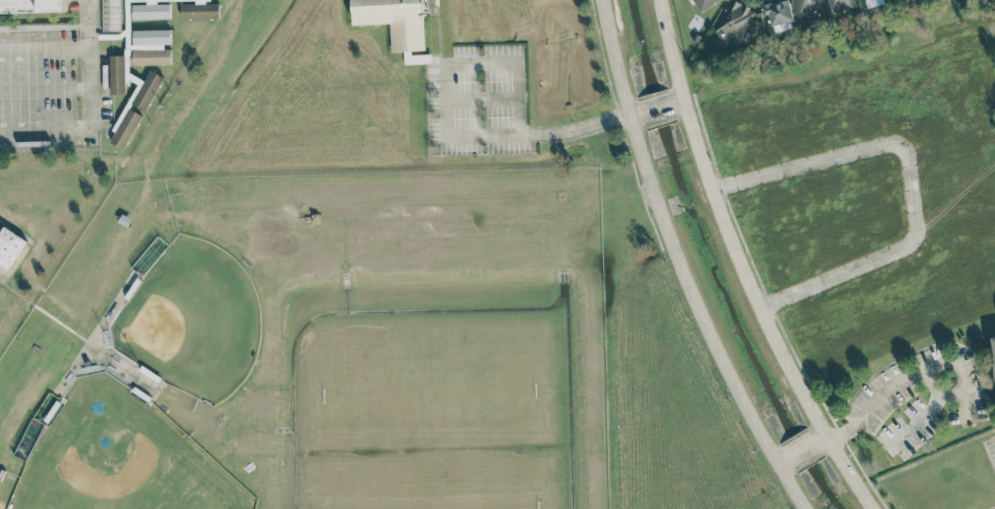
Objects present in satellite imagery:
building: (705, 3)
building: (840, 4)
building: (33, 7)
building: (807, 7)
building: (198, 9)
building: (151, 10)
building: (779, 14)
building: (111, 15)
building: (733, 24)
road: (43, 52)
road: (87, 63)
road: (484, 63)
building: (117, 74)
road: (43, 88)
road: (681, 99)
road: (484, 100)
building: (135, 105)
road: (656, 106)
road: (634, 112)
road: (43, 128)
road: (502, 134)
road: (907, 179)
building: (10, 246)
road: (678, 264)
road: (745, 264)
park: (192, 318)
building: (994, 345)
road: (938, 367)
road: (931, 386)
road: (822, 438)
road: (802, 449)
park: (120, 457)
road: (782, 460)

